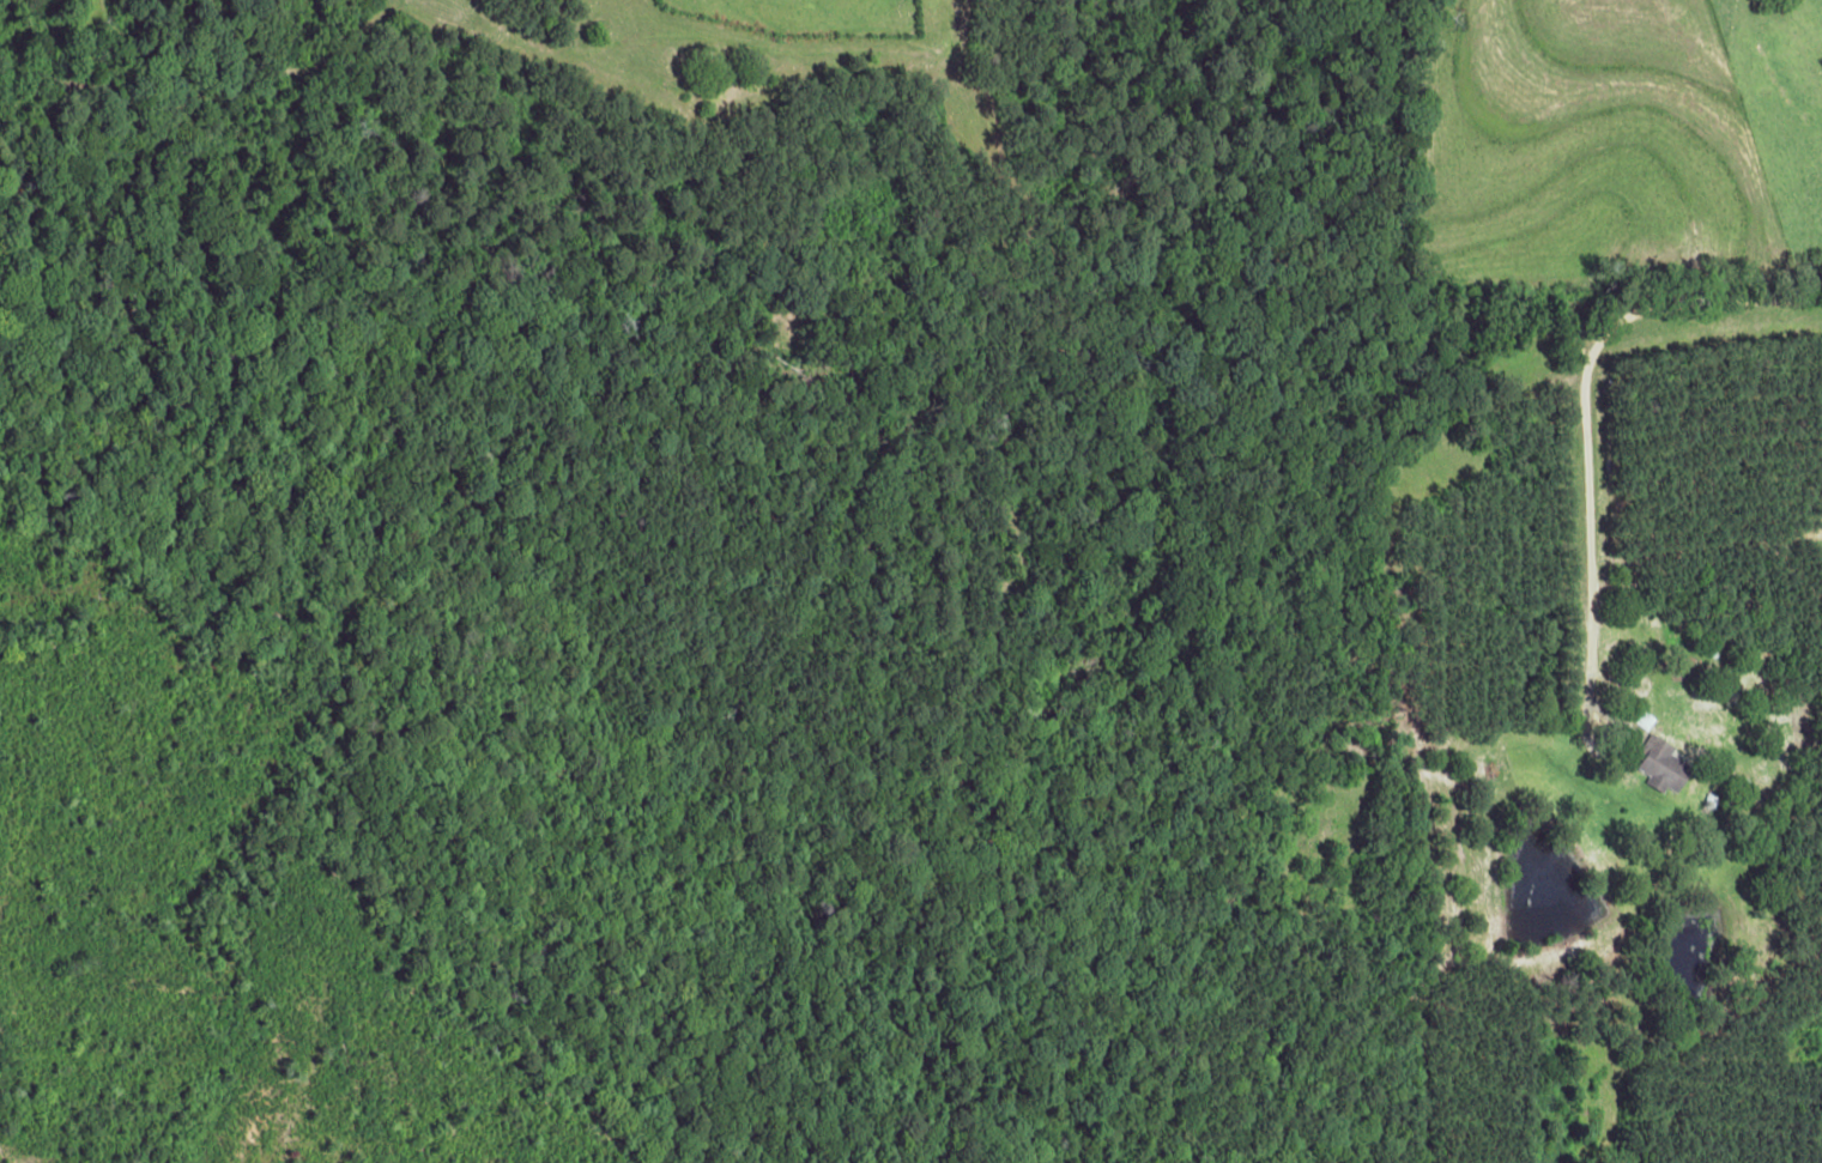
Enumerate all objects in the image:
road: (1712, 17)
building: (1665, 767)

